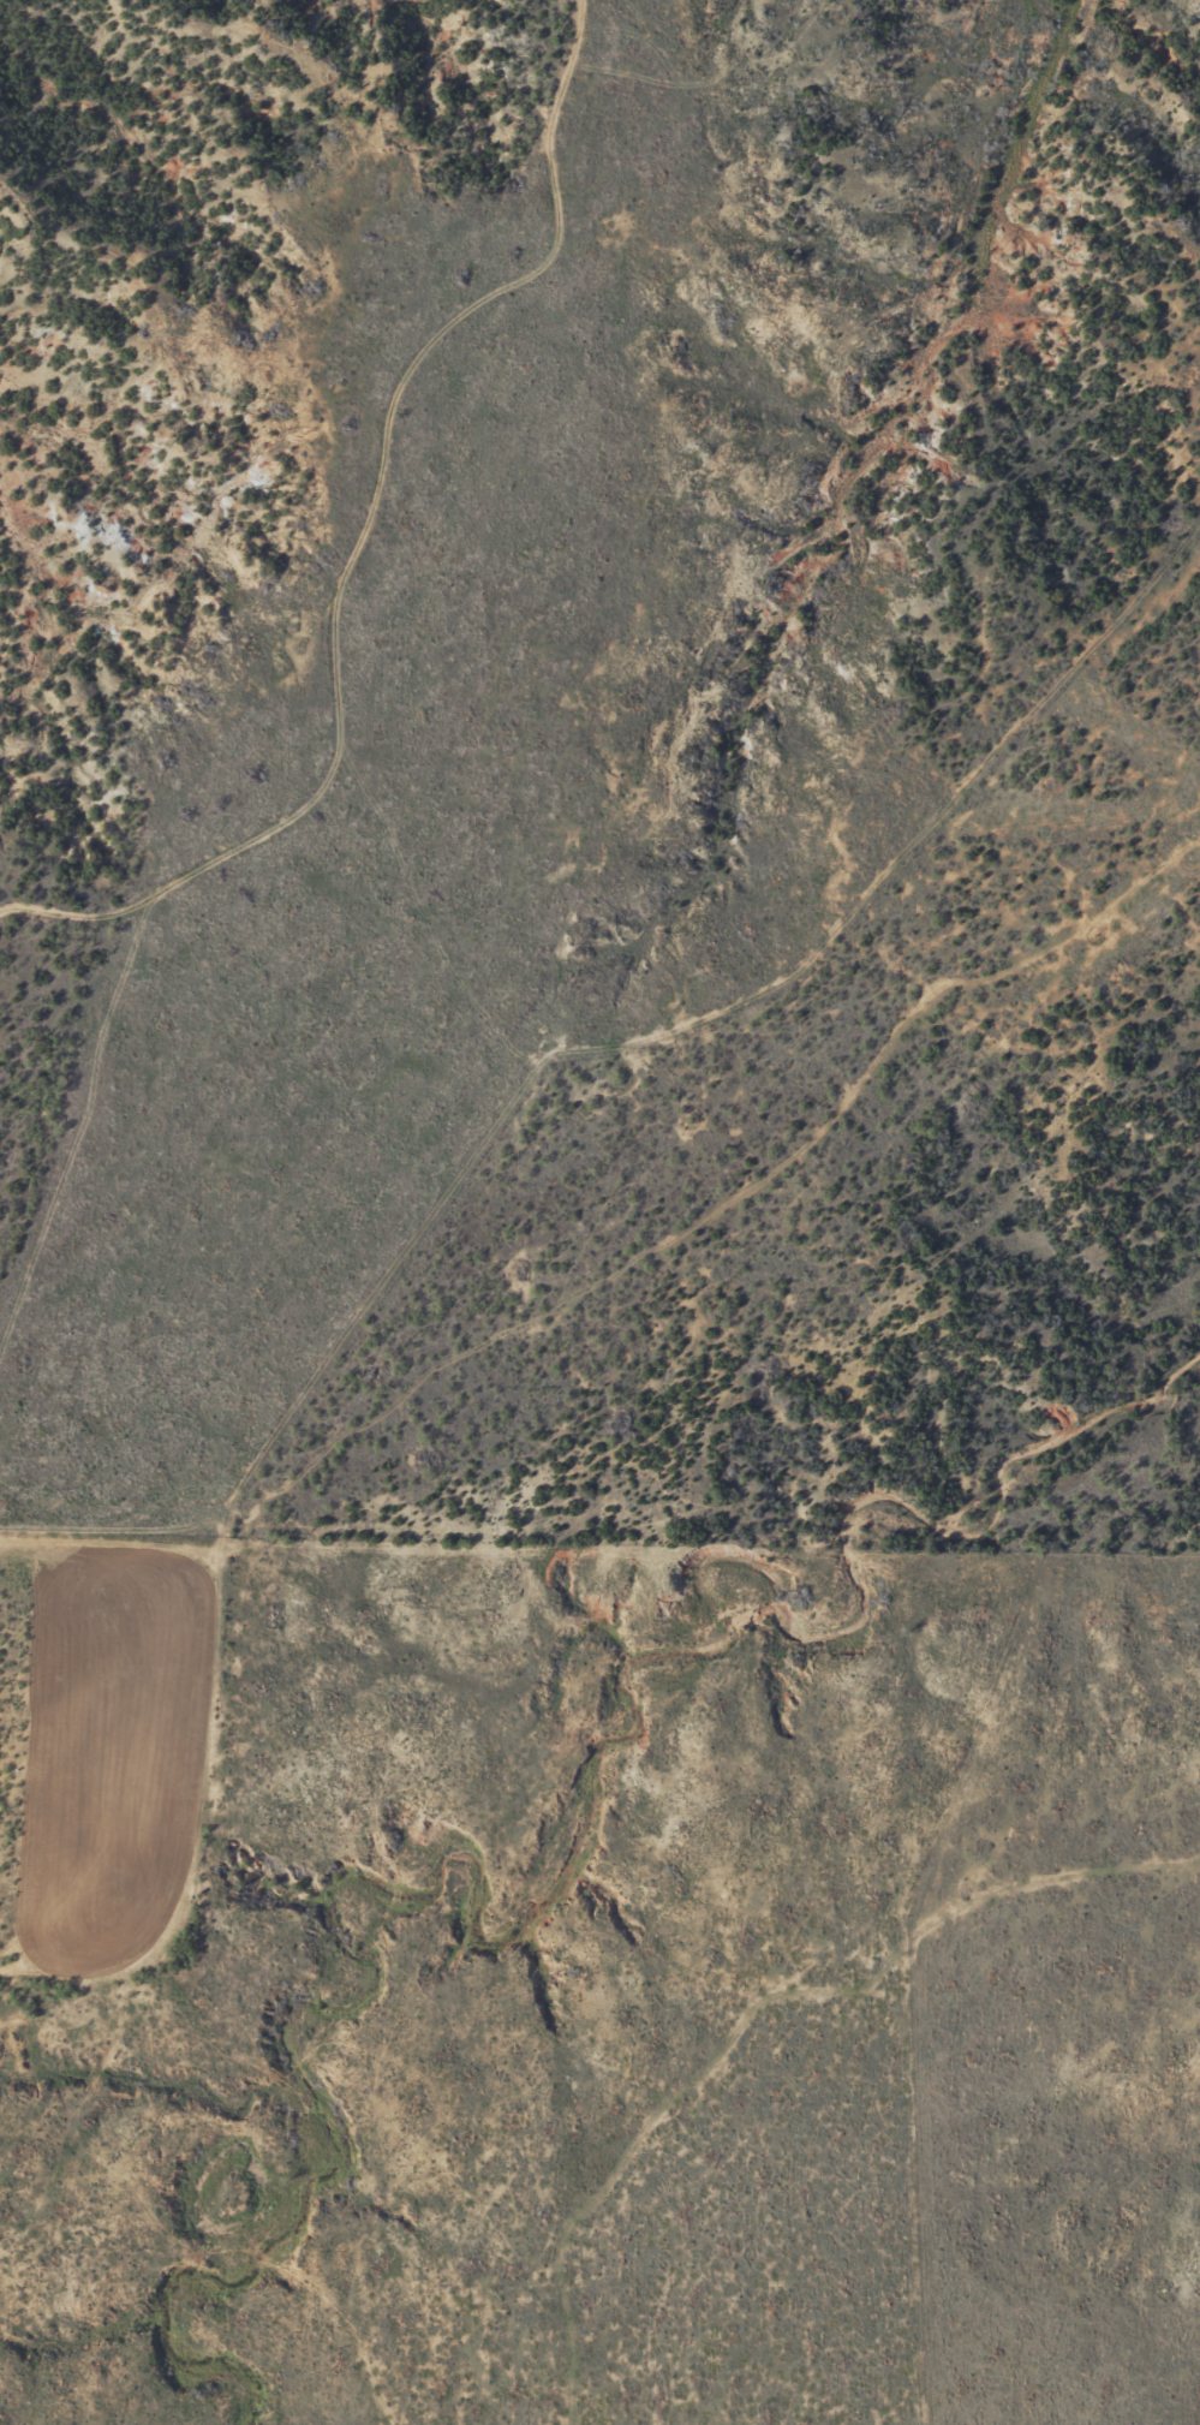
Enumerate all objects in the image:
road: (1181, 806)
road: (662, 1232)

